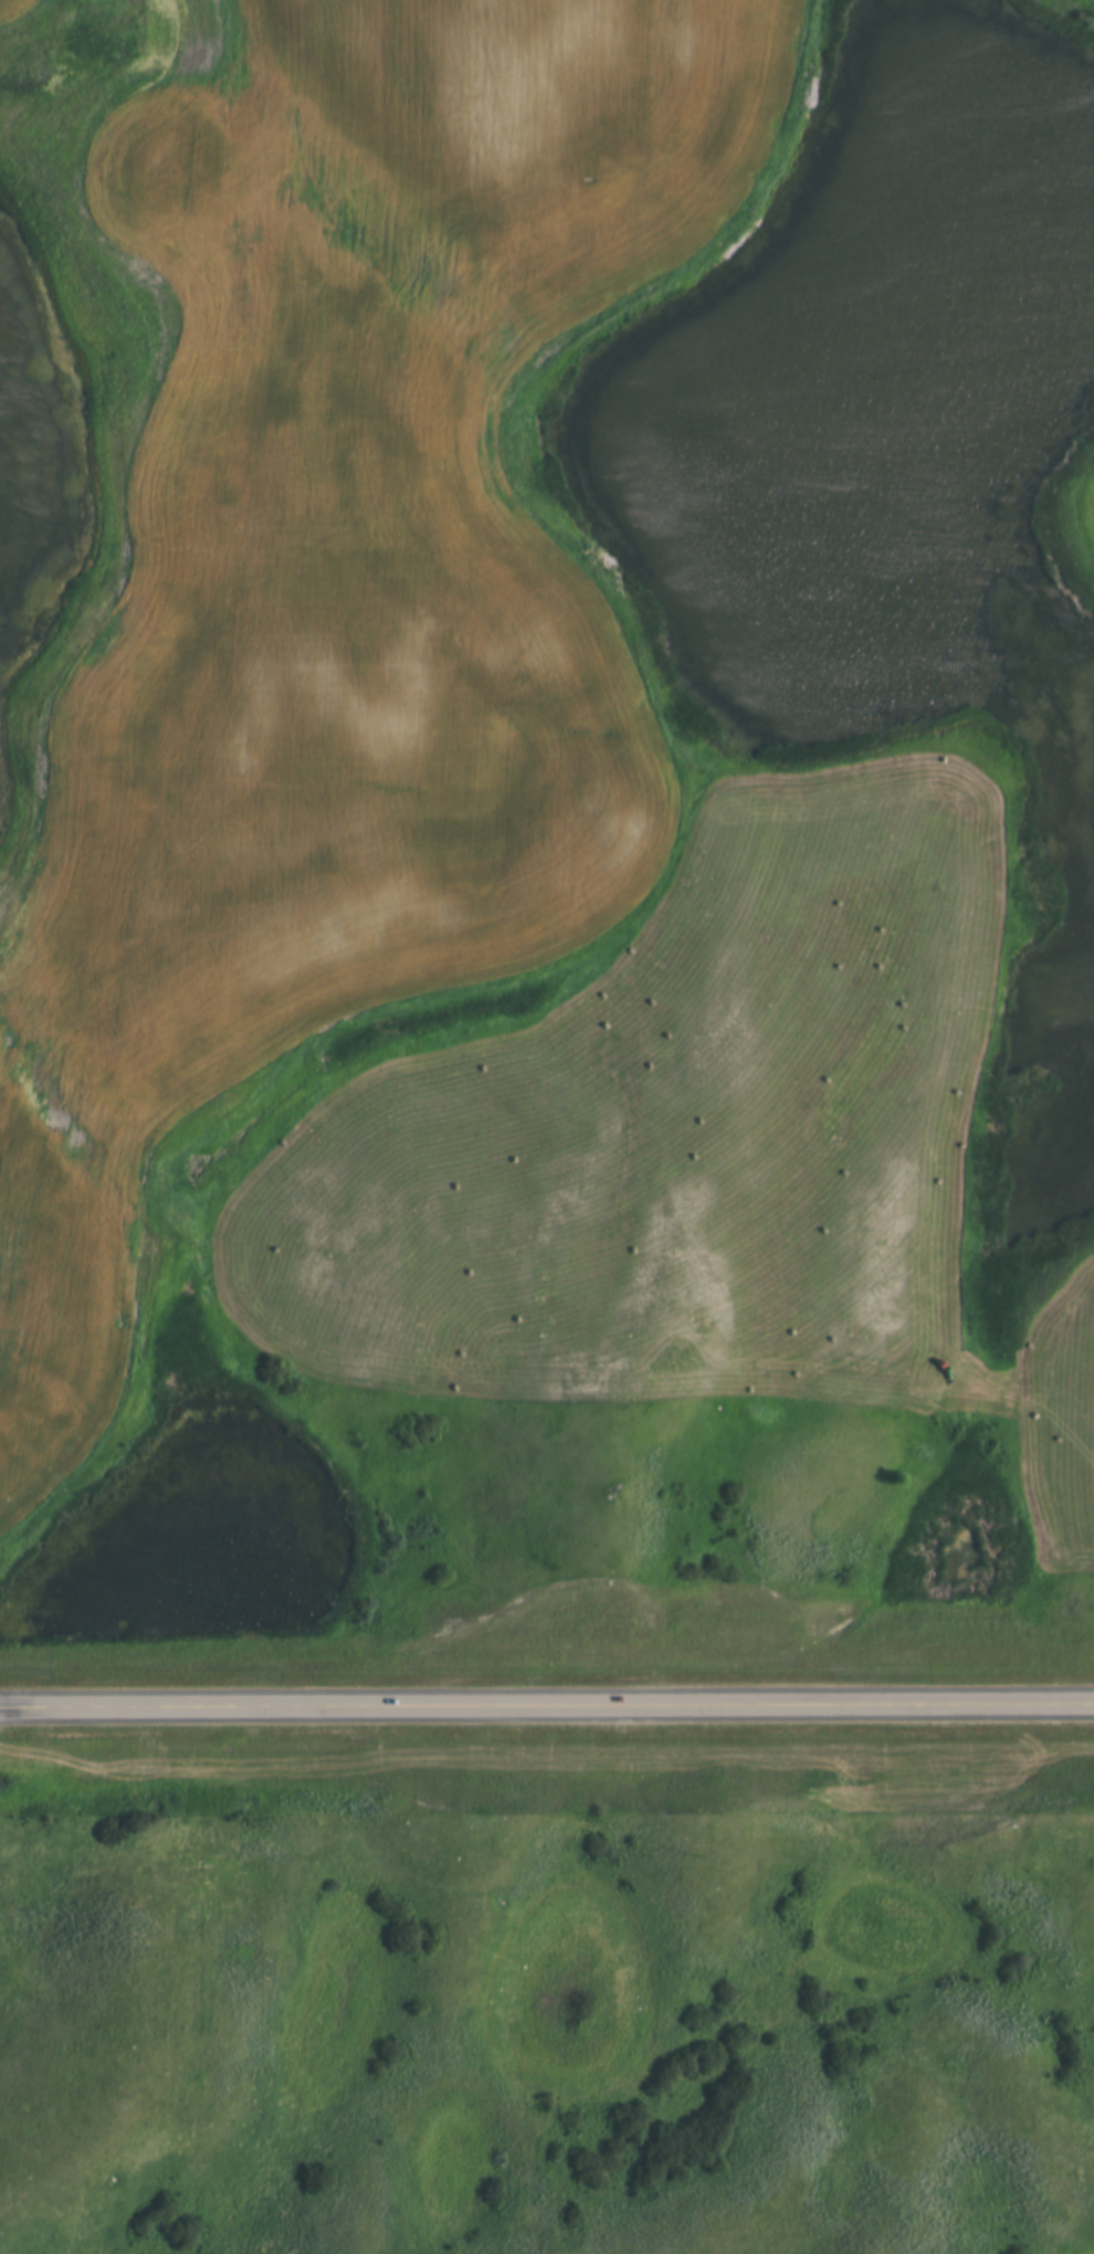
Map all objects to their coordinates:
road: (547, 1700)

